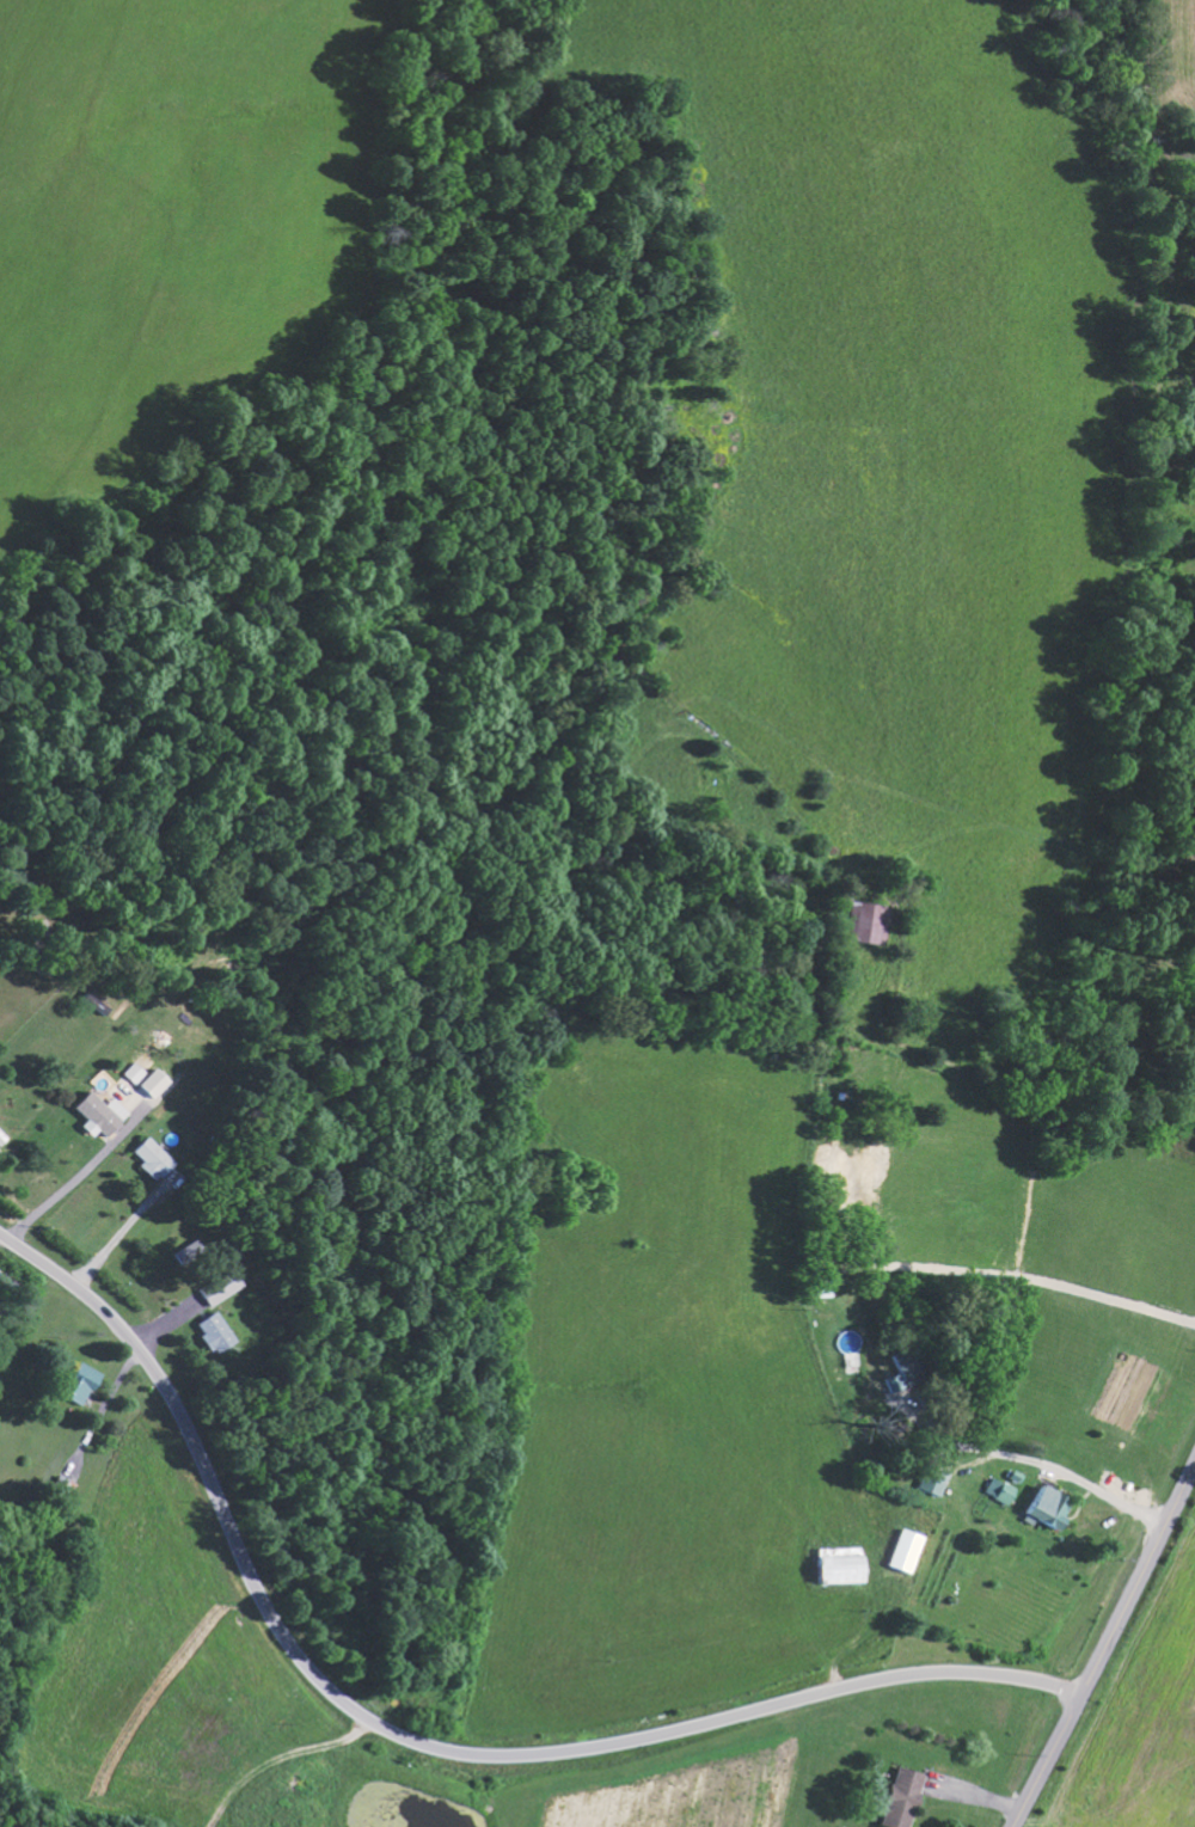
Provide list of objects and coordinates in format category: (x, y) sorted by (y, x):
building: (858, 922)
building: (140, 1067)
building: (122, 1102)
building: (157, 1158)
building: (191, 1251)
building: (819, 1288)
building: (86, 1384)
building: (929, 1483)
building: (995, 1490)
building: (1037, 1507)
building: (899, 1551)
building: (832, 1568)
road: (1105, 1645)
road: (418, 1741)
building: (896, 1798)

